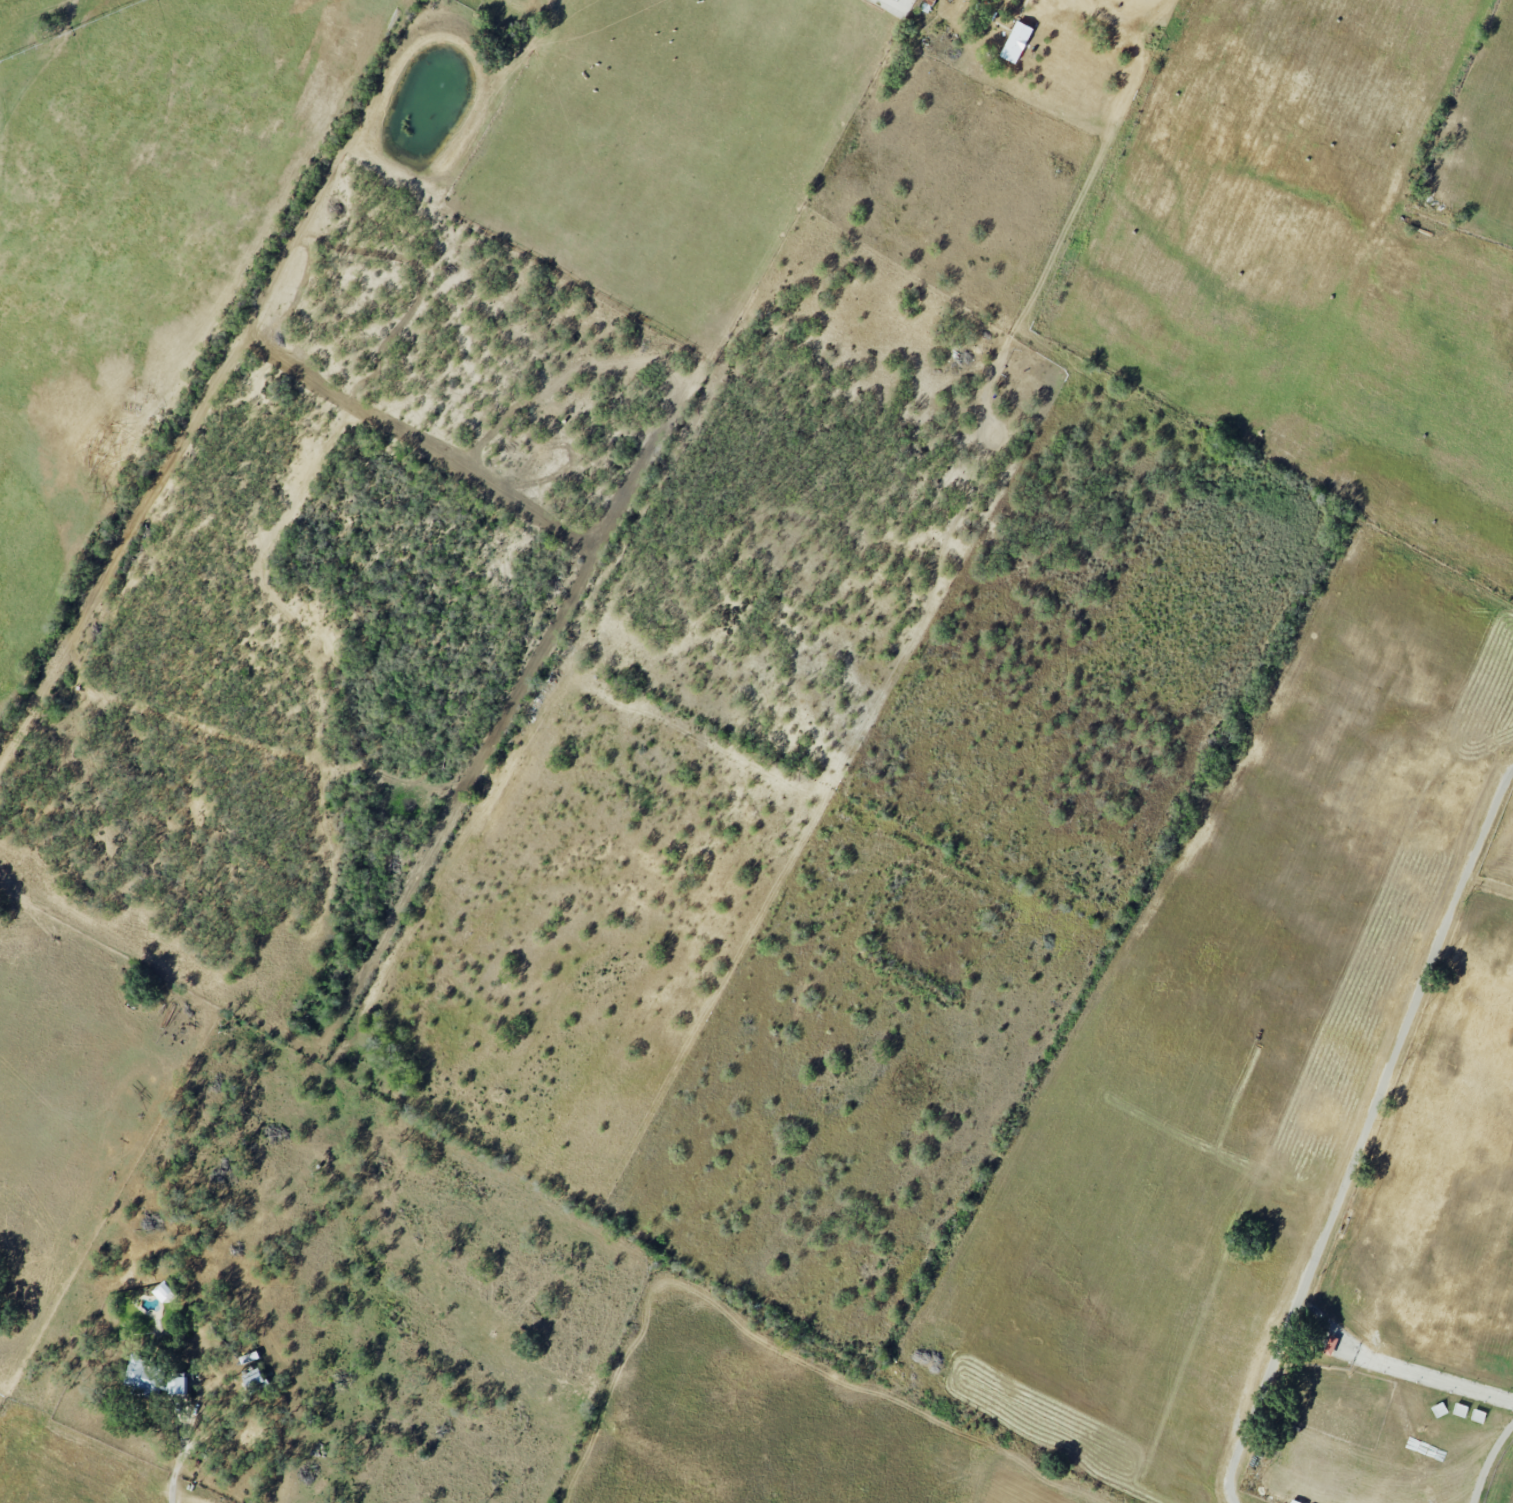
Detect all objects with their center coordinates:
road: (1146, 5)
road: (1155, 6)
road: (1113, 16)
building: (1016, 42)
road: (1488, 884)
road: (1363, 1133)
building: (162, 1291)
road: (1397, 1369)
building: (140, 1374)
building: (176, 1385)
building: (1438, 1409)
building: (1459, 1410)
building: (1477, 1416)
road: (180, 1458)
road: (1489, 1461)

